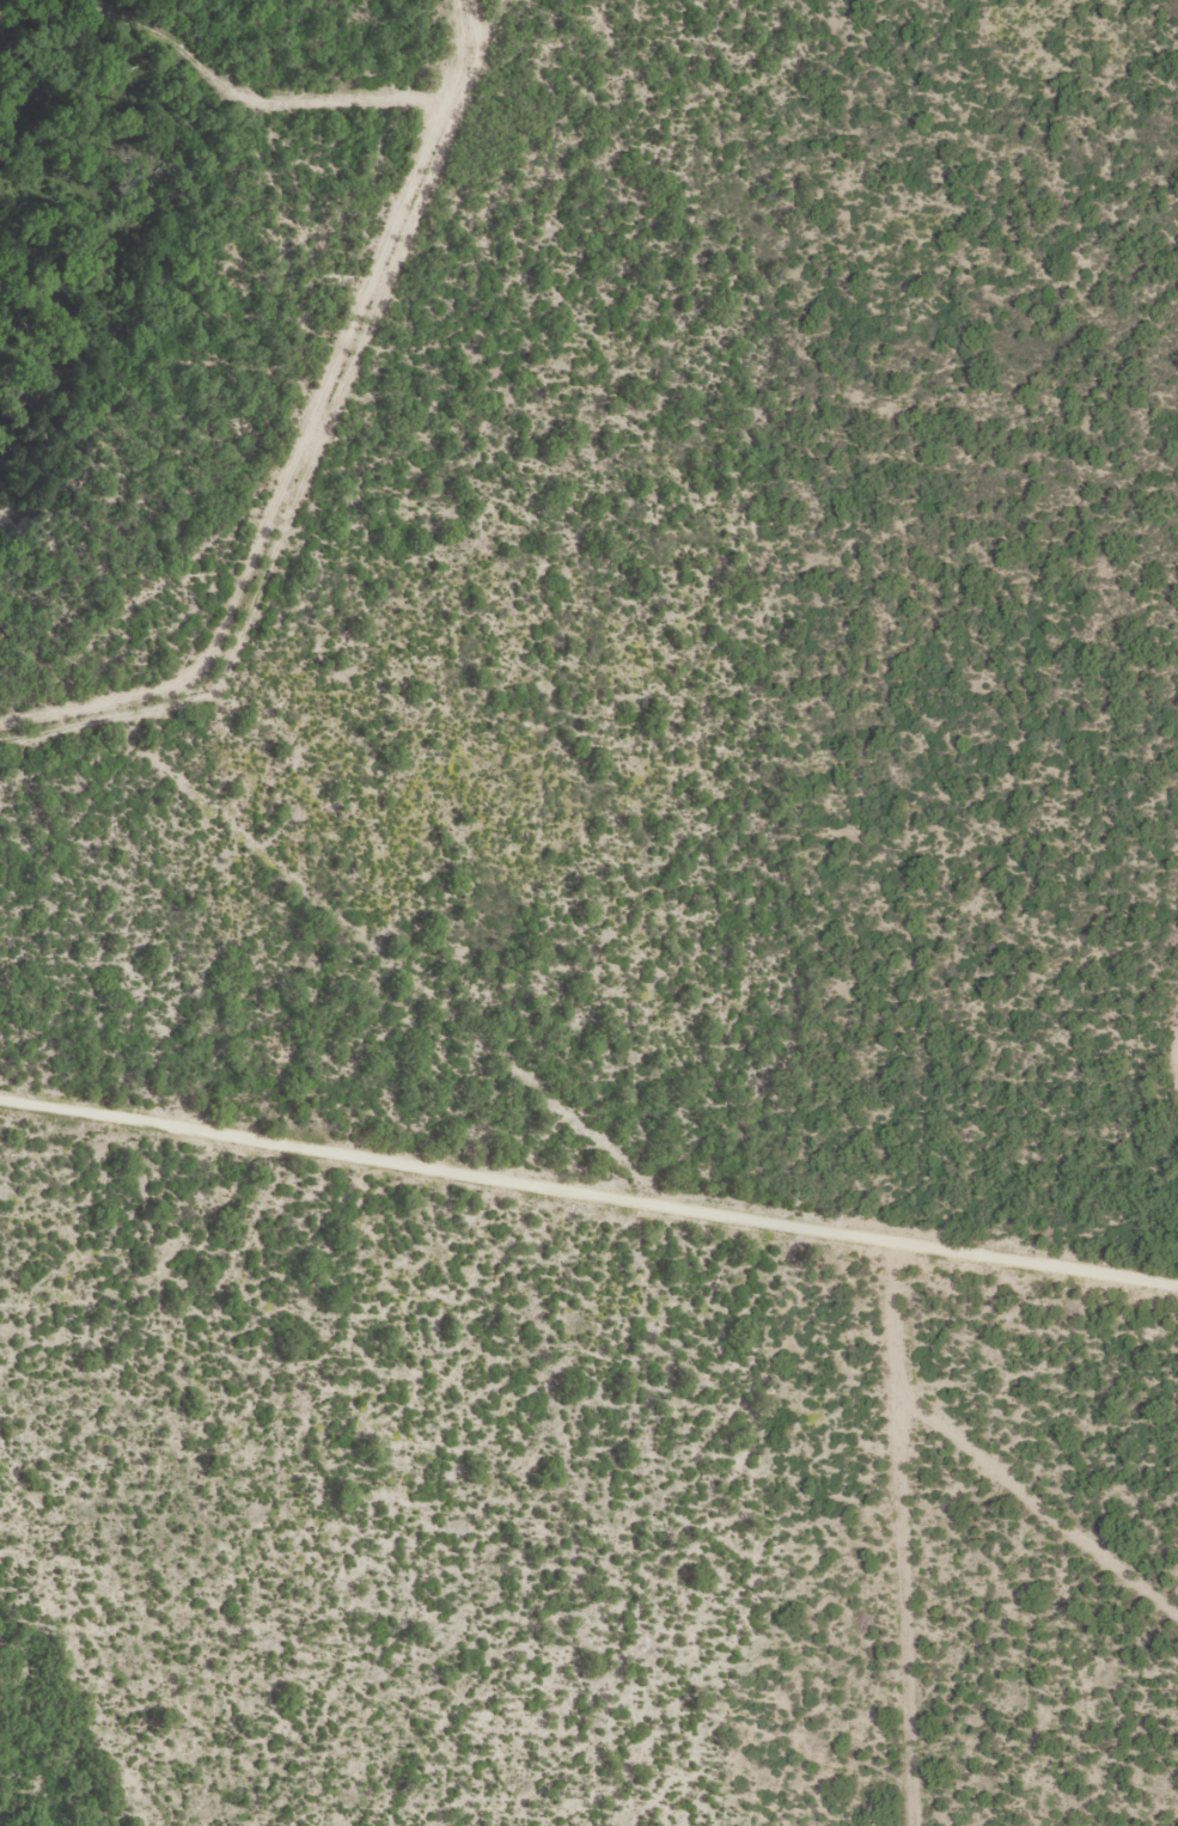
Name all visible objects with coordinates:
road: (306, 320)
river: (7, 448)
road: (588, 1189)

